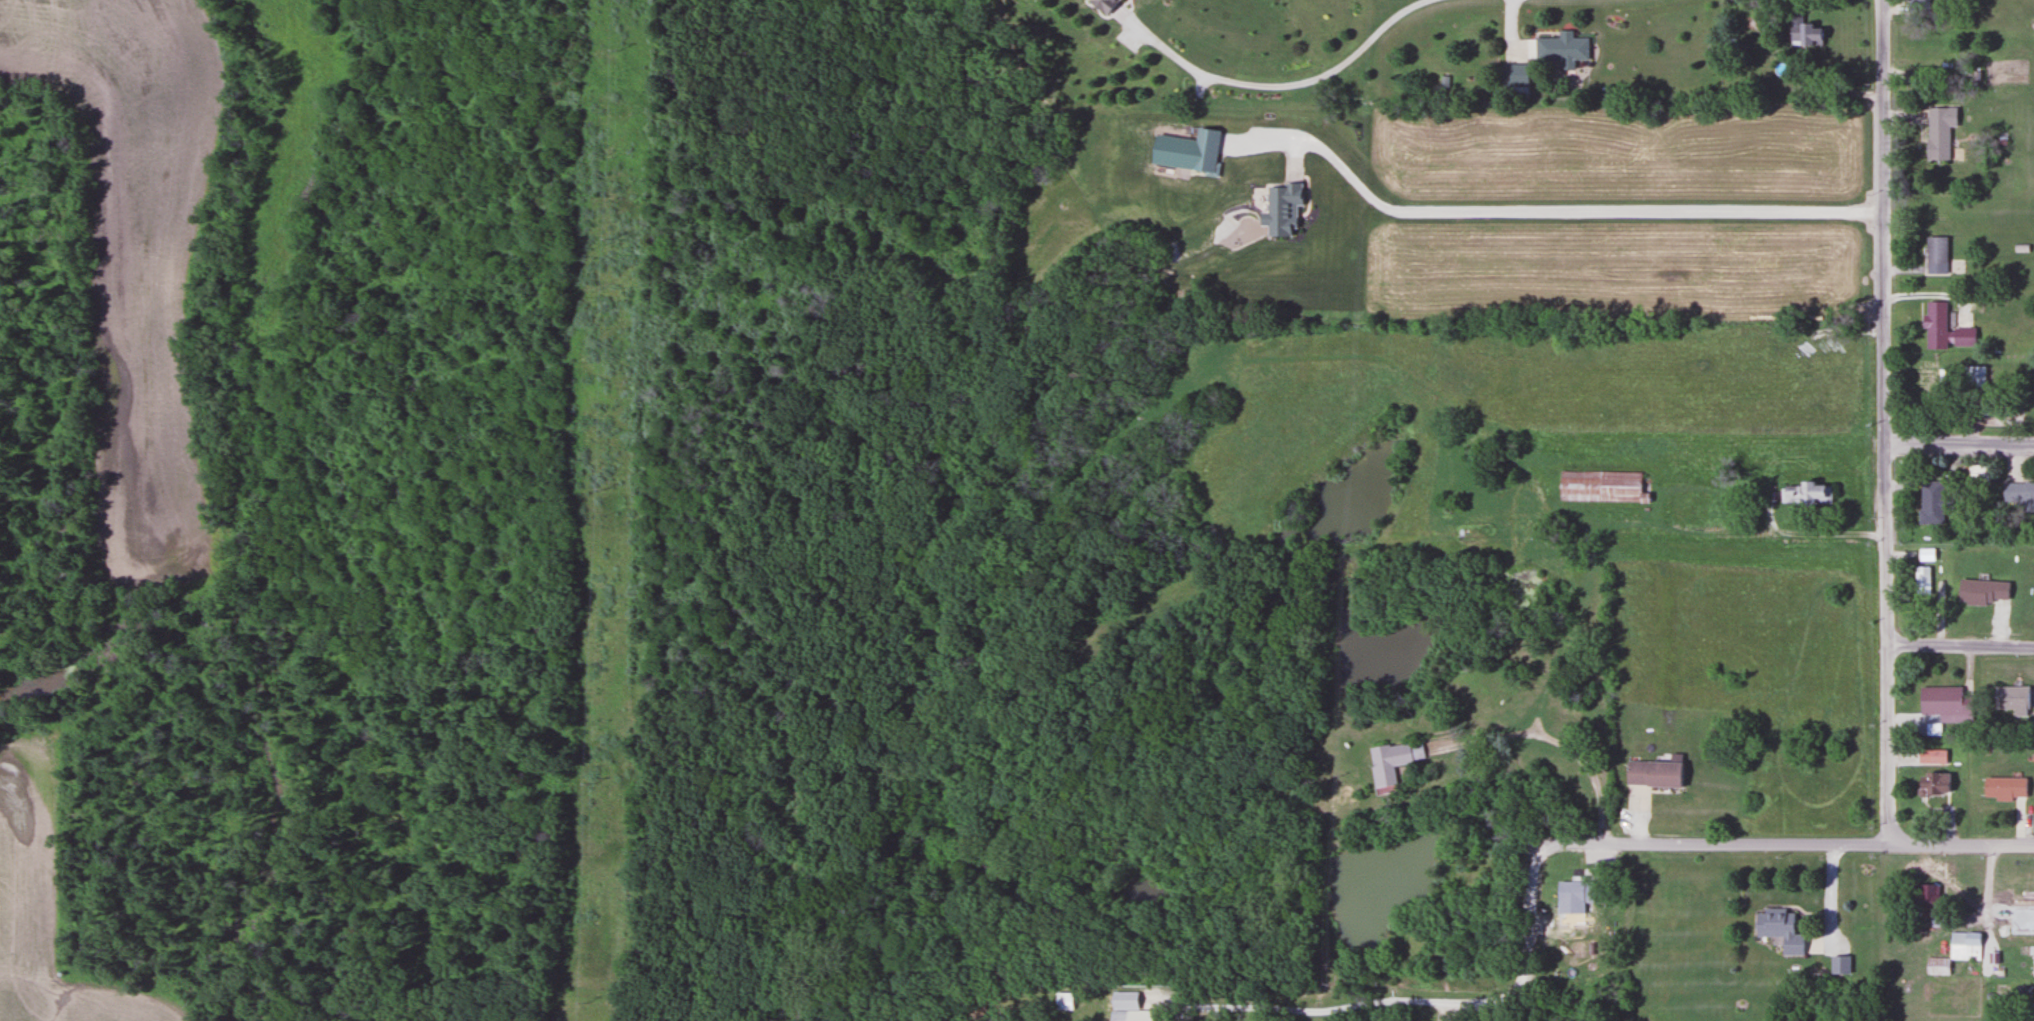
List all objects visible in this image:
building: (1917, 2)
building: (1102, 5)
building: (1804, 35)
building: (1561, 50)
building: (1514, 76)
road: (1280, 86)
building: (1938, 132)
building: (1935, 255)
building: (1943, 329)
building: (1976, 375)
building: (1926, 385)
road: (1884, 423)
road: (1959, 446)
building: (1599, 487)
building: (1805, 494)
building: (2019, 494)
building: (1930, 502)
road: (1592, 564)
building: (1922, 581)
road: (1960, 645)
building: (2010, 699)
building: (1943, 704)
road: (1535, 725)
road: (1445, 753)
building: (1931, 756)
building: (1391, 761)
building: (1652, 772)
building: (1931, 783)
building: (2003, 788)
road: (1665, 844)
road: (1880, 845)
building: (1570, 892)
building: (1926, 901)
building: (1778, 929)
building: (1965, 945)
building: (2033, 961)
building: (1839, 965)
building: (1936, 966)
building: (1066, 1000)
road: (1441, 1005)
building: (1127, 1006)
building: (2031, 1012)
road: (1444, 1013)

